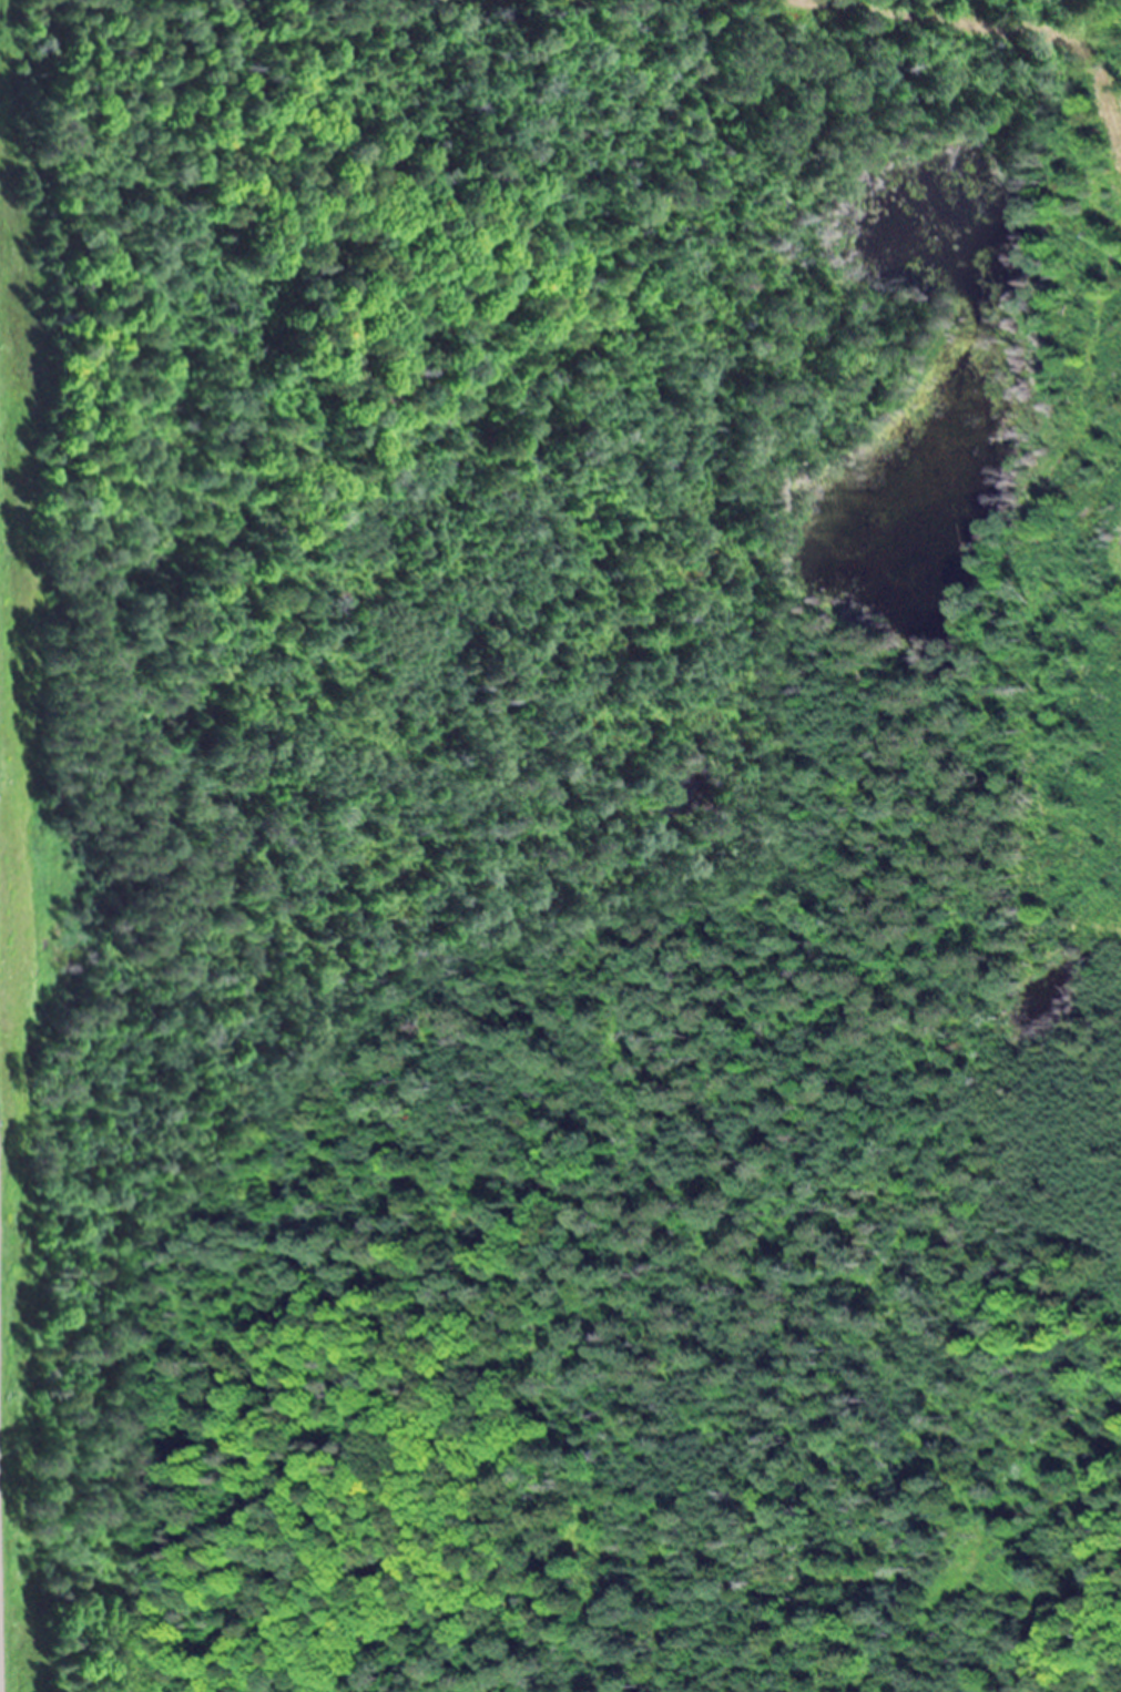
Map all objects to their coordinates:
road: (928, 1622)

